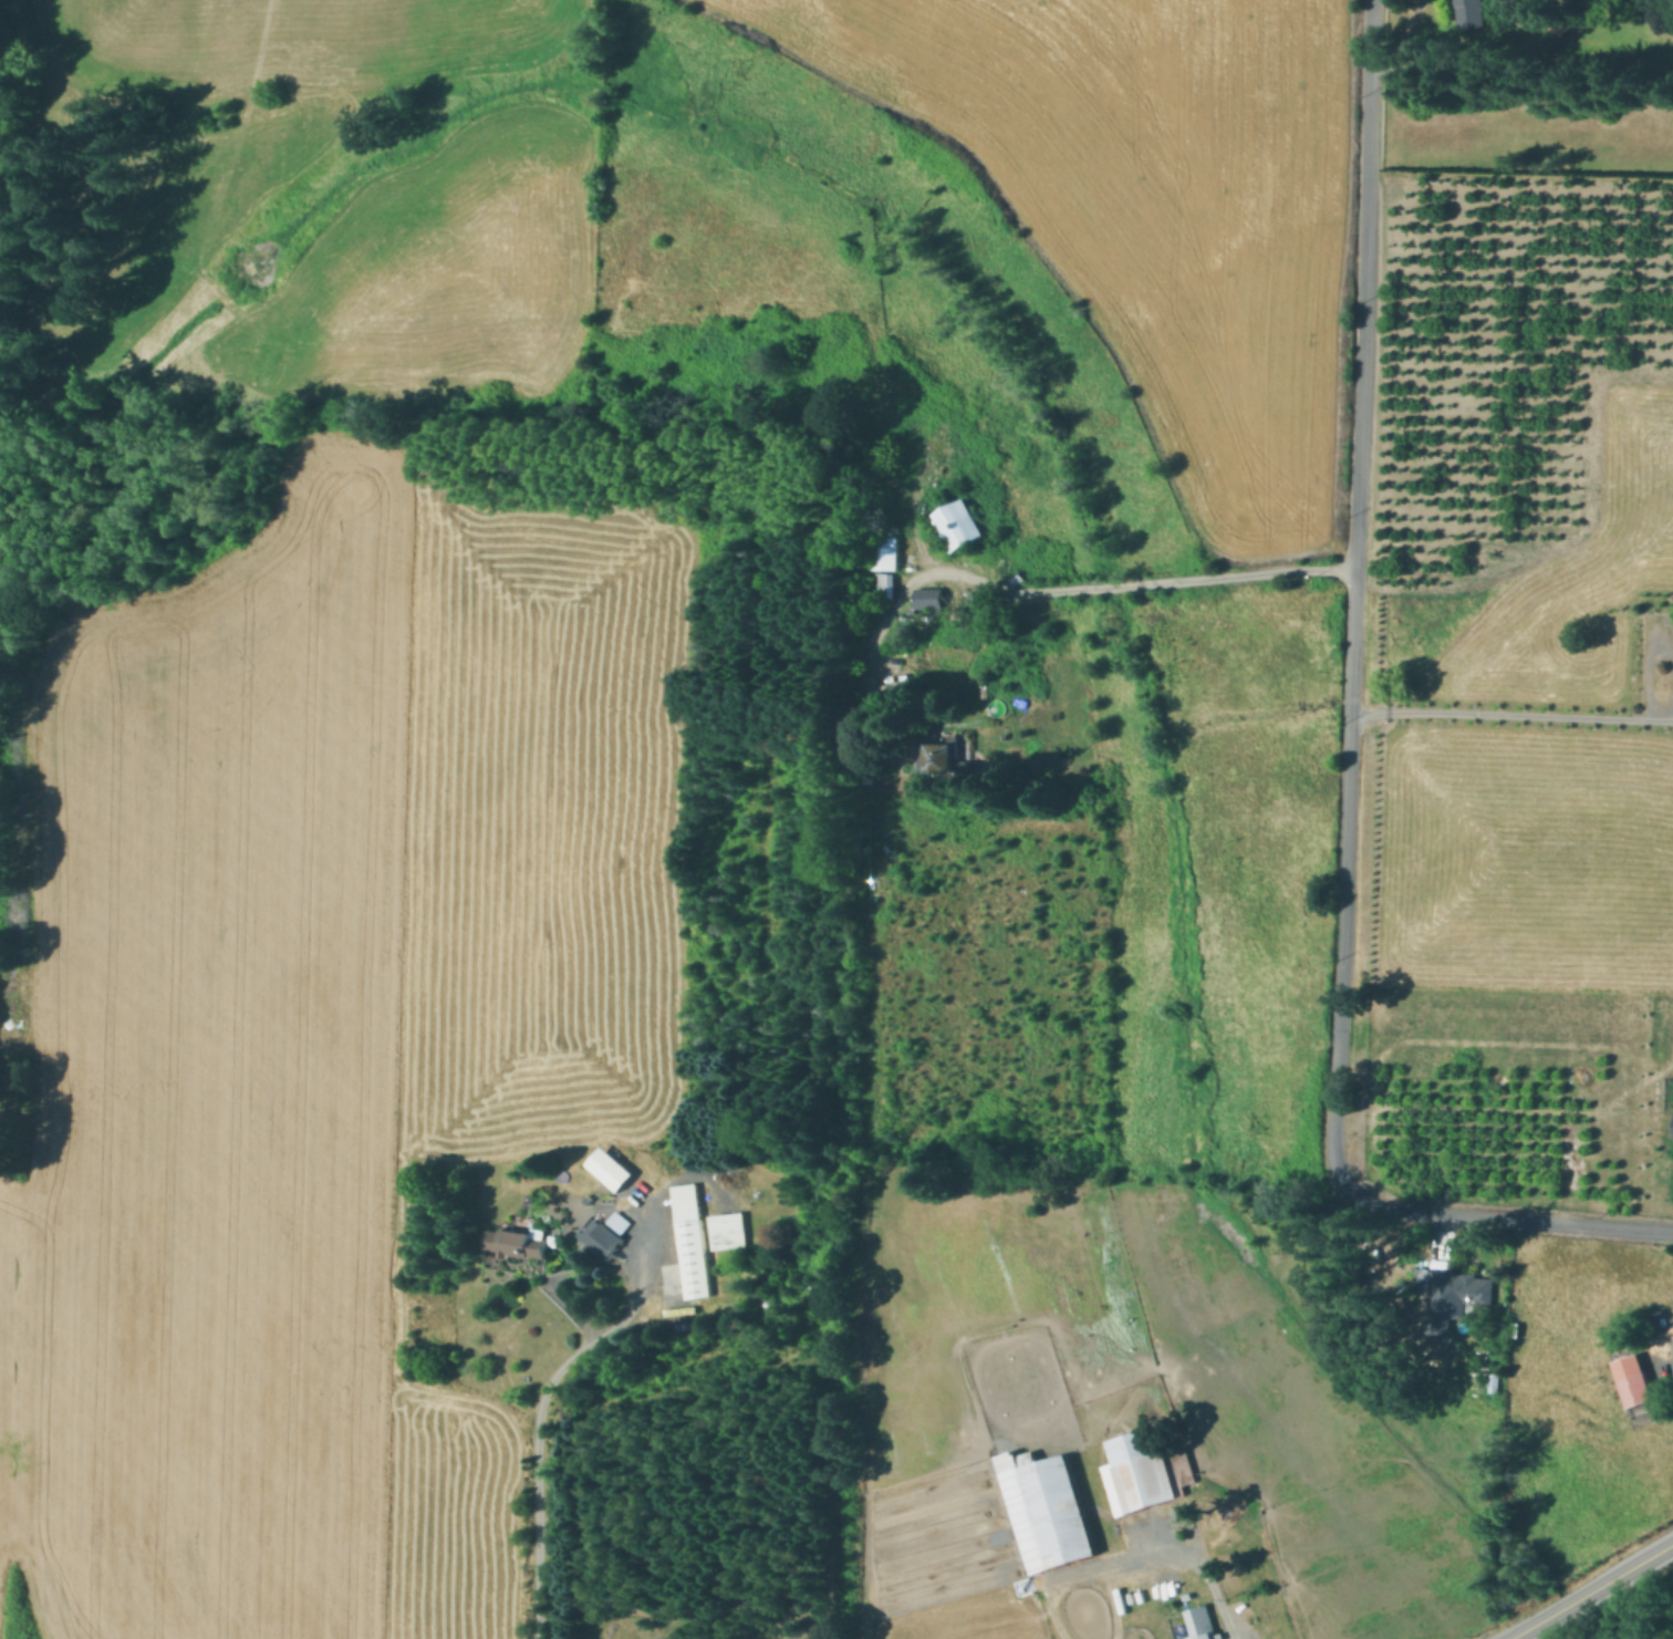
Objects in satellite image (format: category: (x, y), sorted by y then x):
building: (1472, 12)
road: (1424, 31)
road: (1457, 62)
road: (1566, 65)
crop: (1157, 201)
building: (960, 526)
building: (889, 553)
building: (887, 587)
road: (1021, 591)
building: (931, 599)
road: (1511, 713)
building: (943, 757)
road: (1349, 761)
crop: (323, 1035)
building: (621, 1223)
building: (731, 1231)
building: (603, 1241)
building: (693, 1241)
building: (520, 1242)
road: (563, 1276)
building: (1455, 1298)
building: (1672, 1336)
road: (1663, 1357)
building: (1635, 1380)
building: (1495, 1387)
road: (542, 1398)
building: (1182, 1469)
building: (1141, 1472)
building: (1048, 1510)
road: (1160, 1549)
road: (1650, 1556)
building: (1182, 1577)
road: (1570, 1602)
building: (1204, 1631)
road: (1510, 1637)

